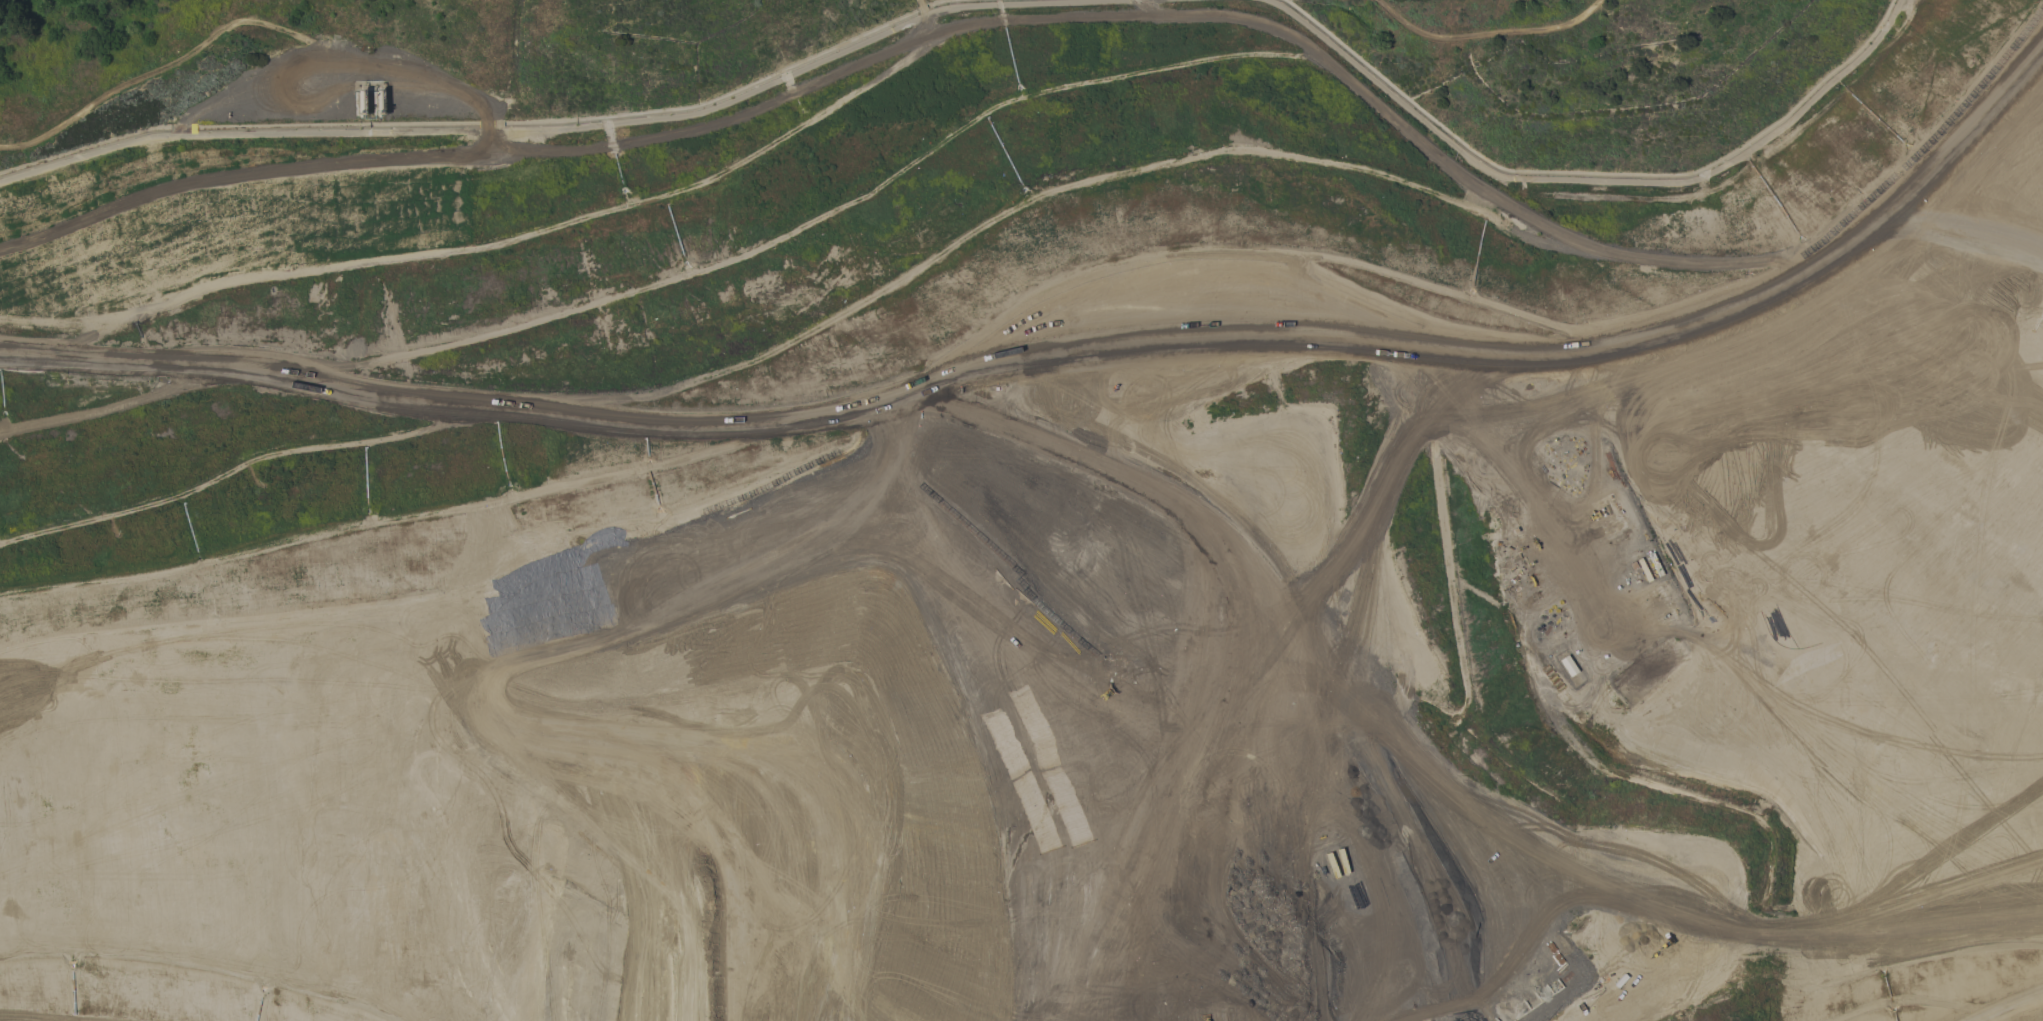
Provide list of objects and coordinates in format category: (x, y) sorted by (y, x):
road: (1490, 30)
road: (506, 65)
road: (569, 128)
road: (1939, 134)
road: (1589, 180)
road: (1909, 230)
road: (1734, 267)
road: (1715, 449)
road: (720, 457)
landfill: (1020, 542)
landfill: (1020, 542)
road: (1331, 654)
road: (1902, 907)
road: (1964, 922)
road: (2032, 1014)

